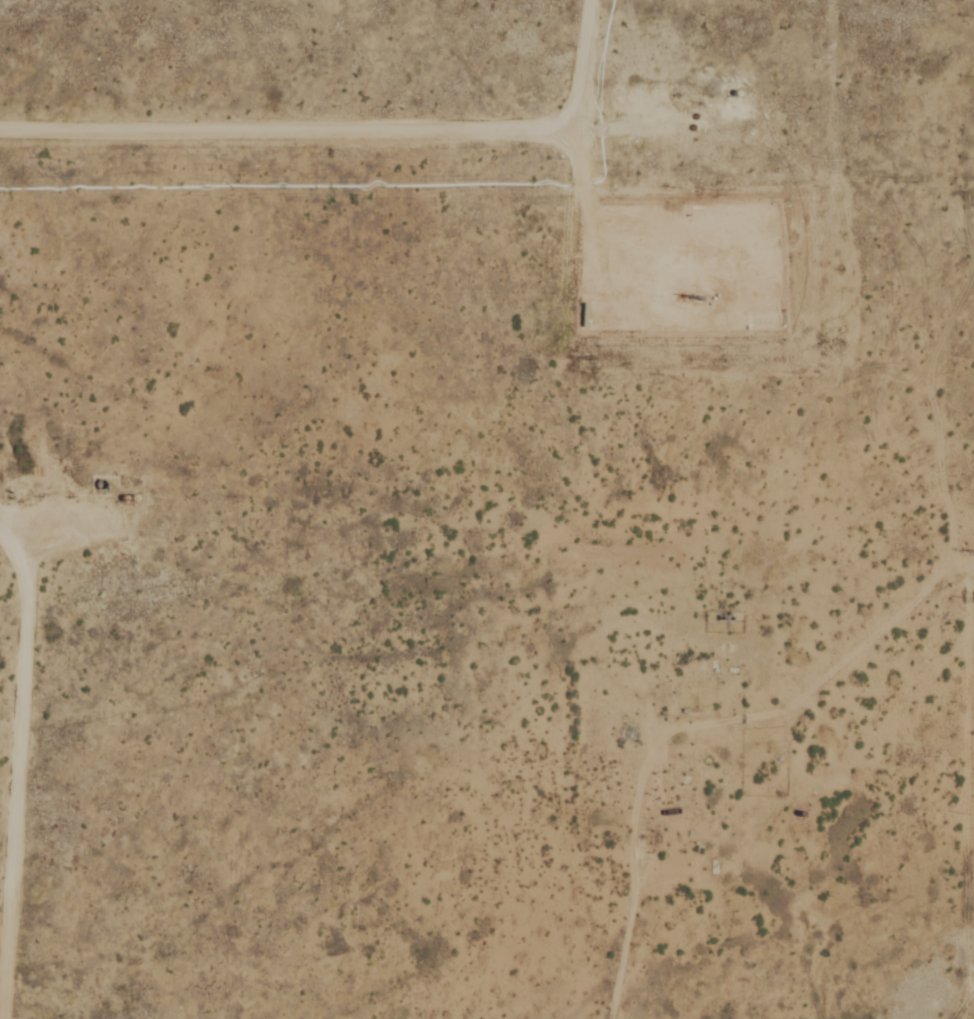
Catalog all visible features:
road: (845, 636)
road: (945, 789)
road: (599, 934)
road: (946, 989)

